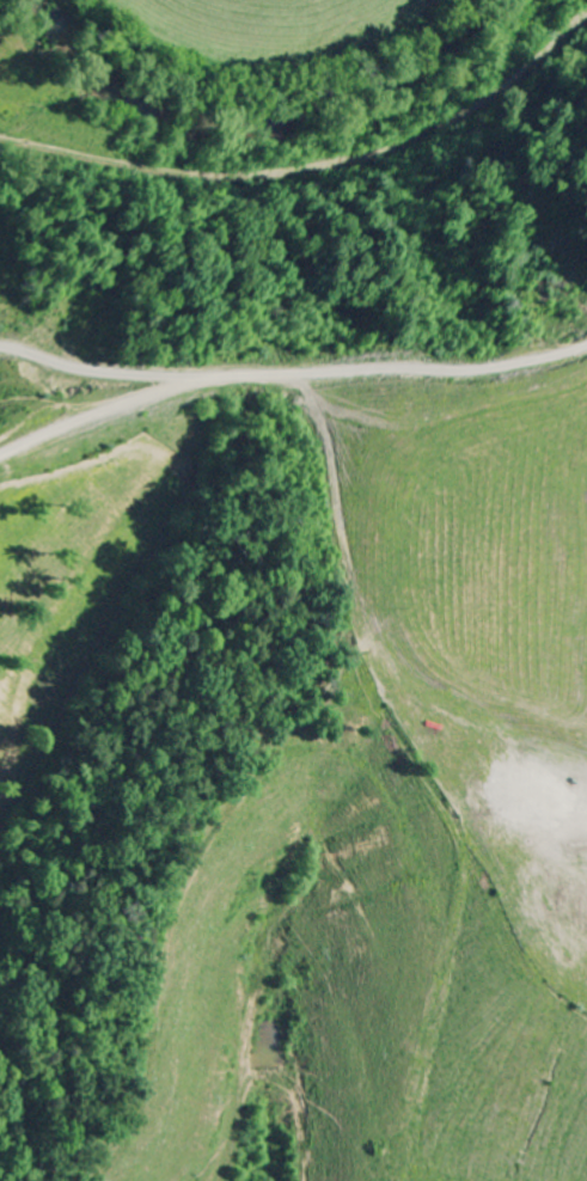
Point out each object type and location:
river: (257, 117)

